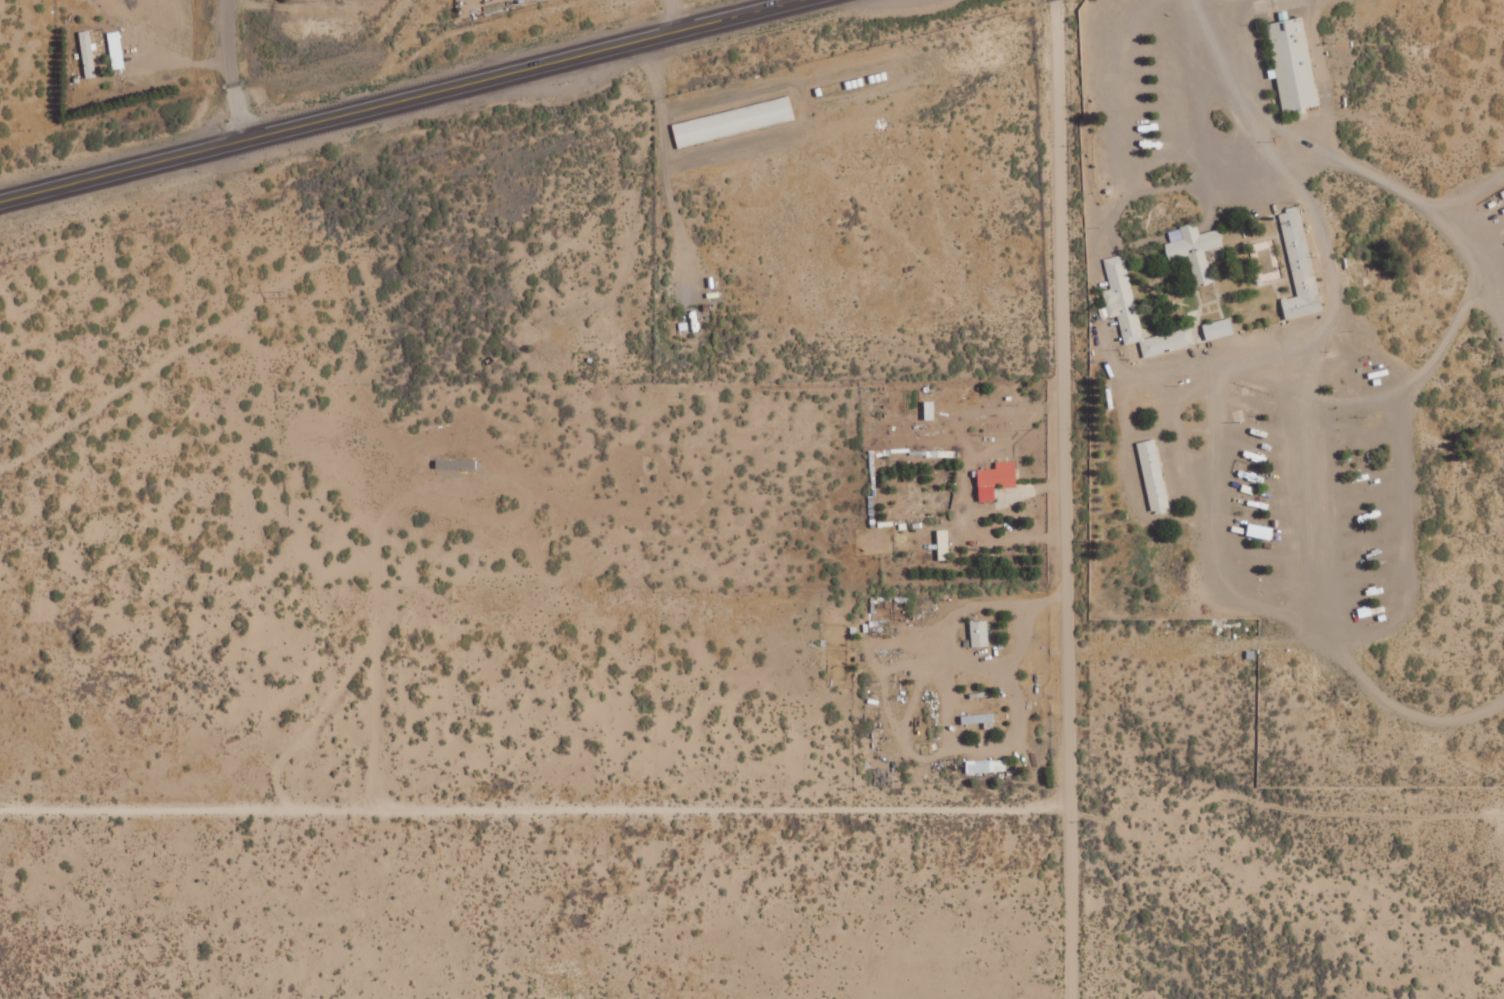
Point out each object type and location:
road: (674, 15)
road: (1209, 32)
building: (116, 50)
building: (87, 54)
building: (1298, 69)
road: (231, 70)
road: (399, 100)
building: (733, 121)
road: (677, 160)
road: (1396, 191)
road: (1465, 197)
building: (1194, 249)
road: (318, 261)
building: (1300, 268)
building: (1137, 313)
building: (1218, 329)
building: (930, 410)
road: (1311, 446)
building: (1154, 476)
road: (1409, 478)
building: (996, 479)
road: (1061, 499)
building: (1261, 532)
building: (943, 545)
building: (980, 634)
building: (979, 719)
building: (986, 765)
road: (533, 807)

